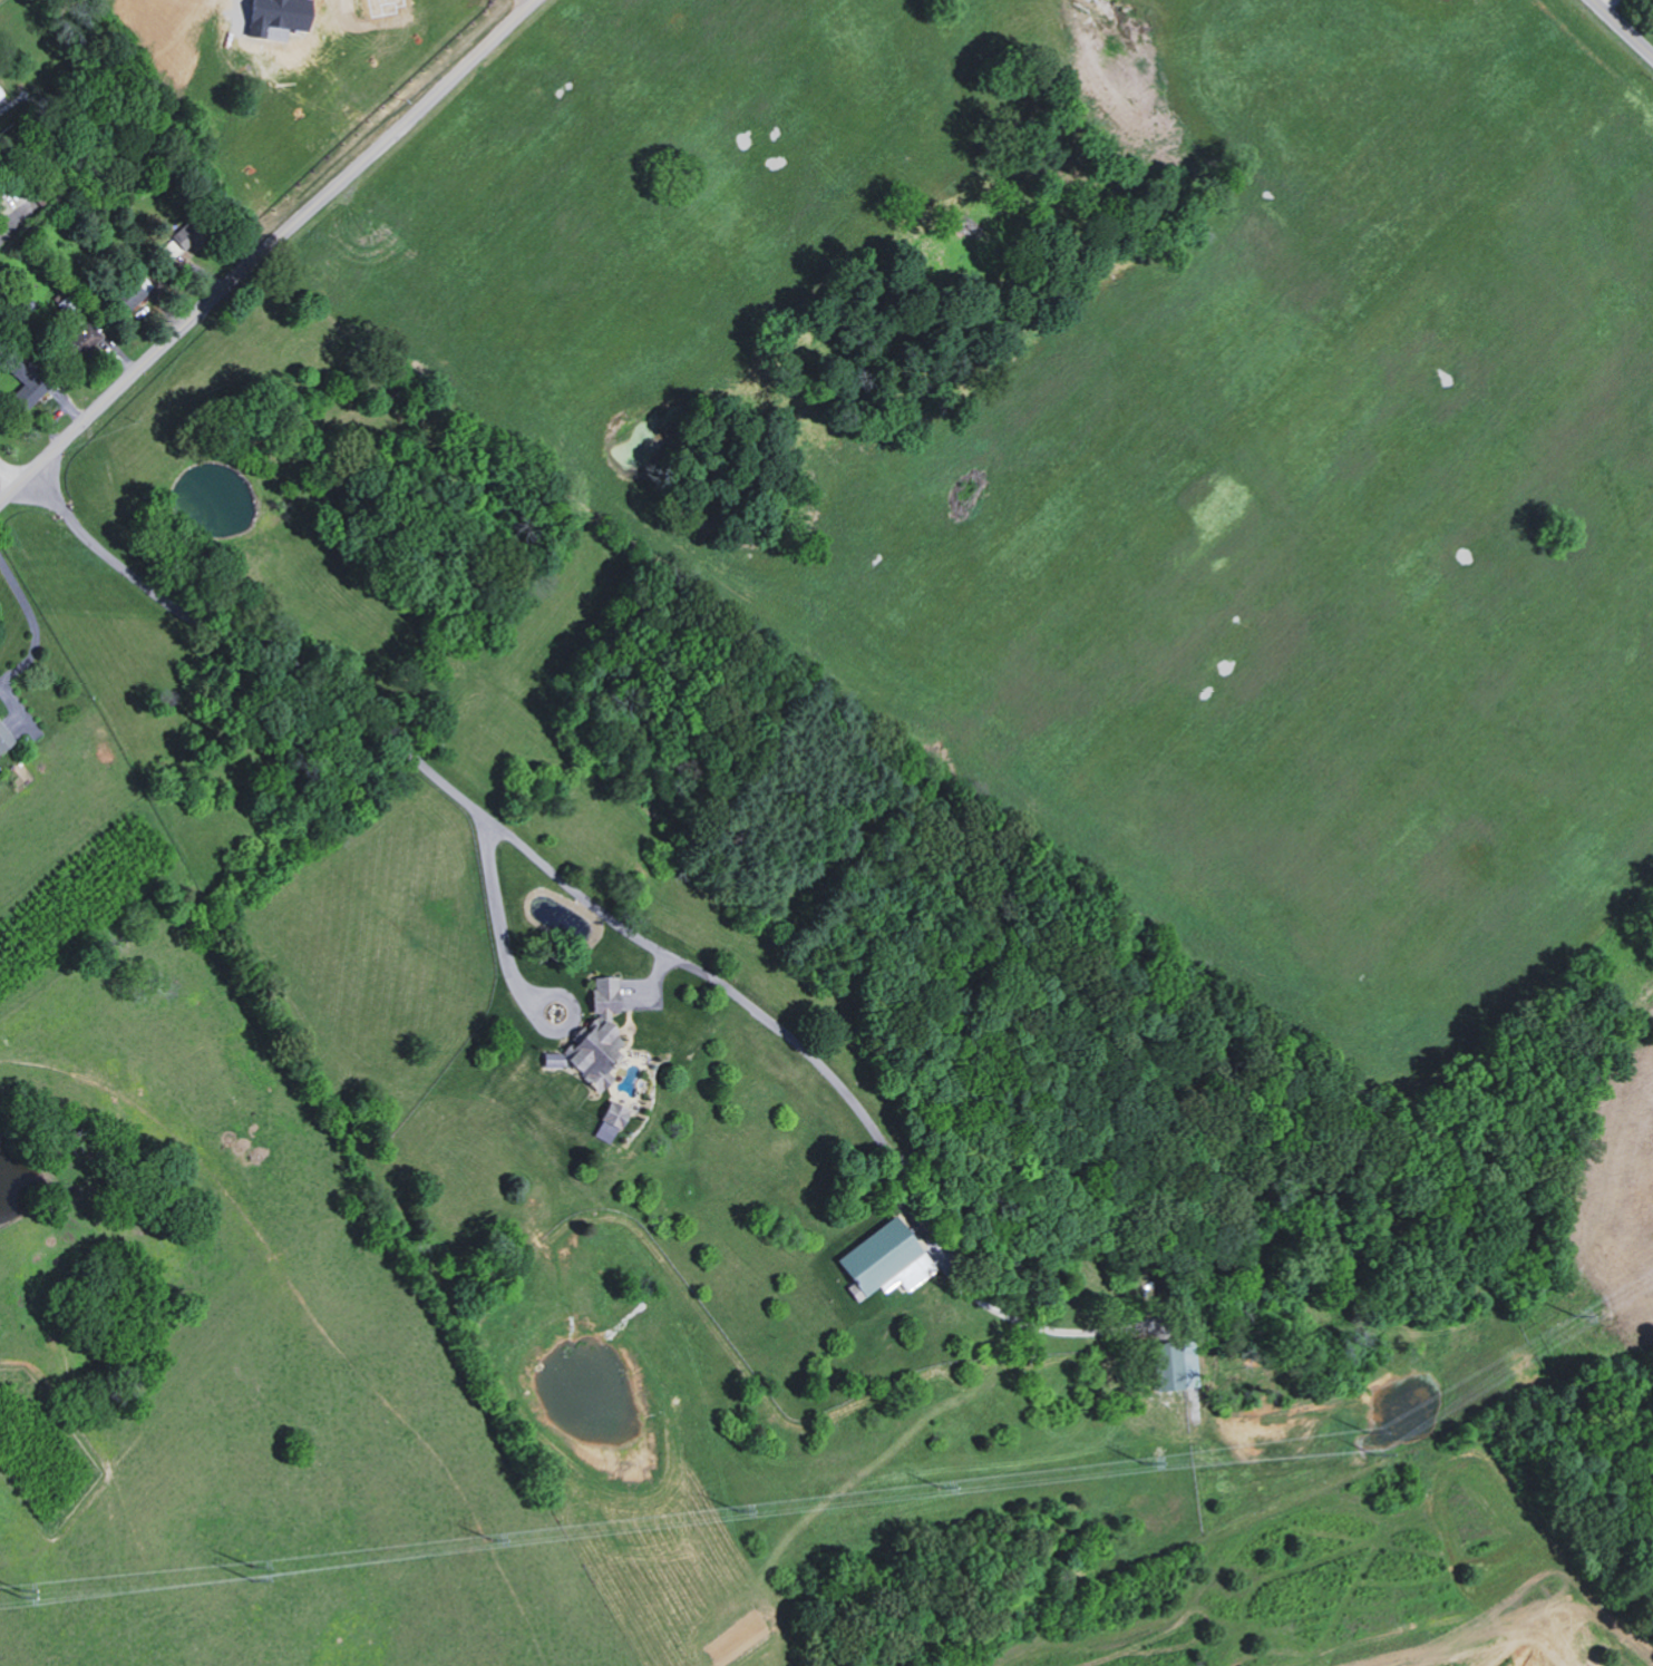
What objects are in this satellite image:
road: (1624, 27)
road: (266, 253)
building: (134, 292)
building: (85, 337)
building: (26, 384)
road: (9, 479)
road: (31, 622)
road: (344, 712)
building: (4, 738)
road: (707, 974)
building: (594, 1039)
building: (609, 1120)
building: (885, 1258)
building: (1170, 1366)

